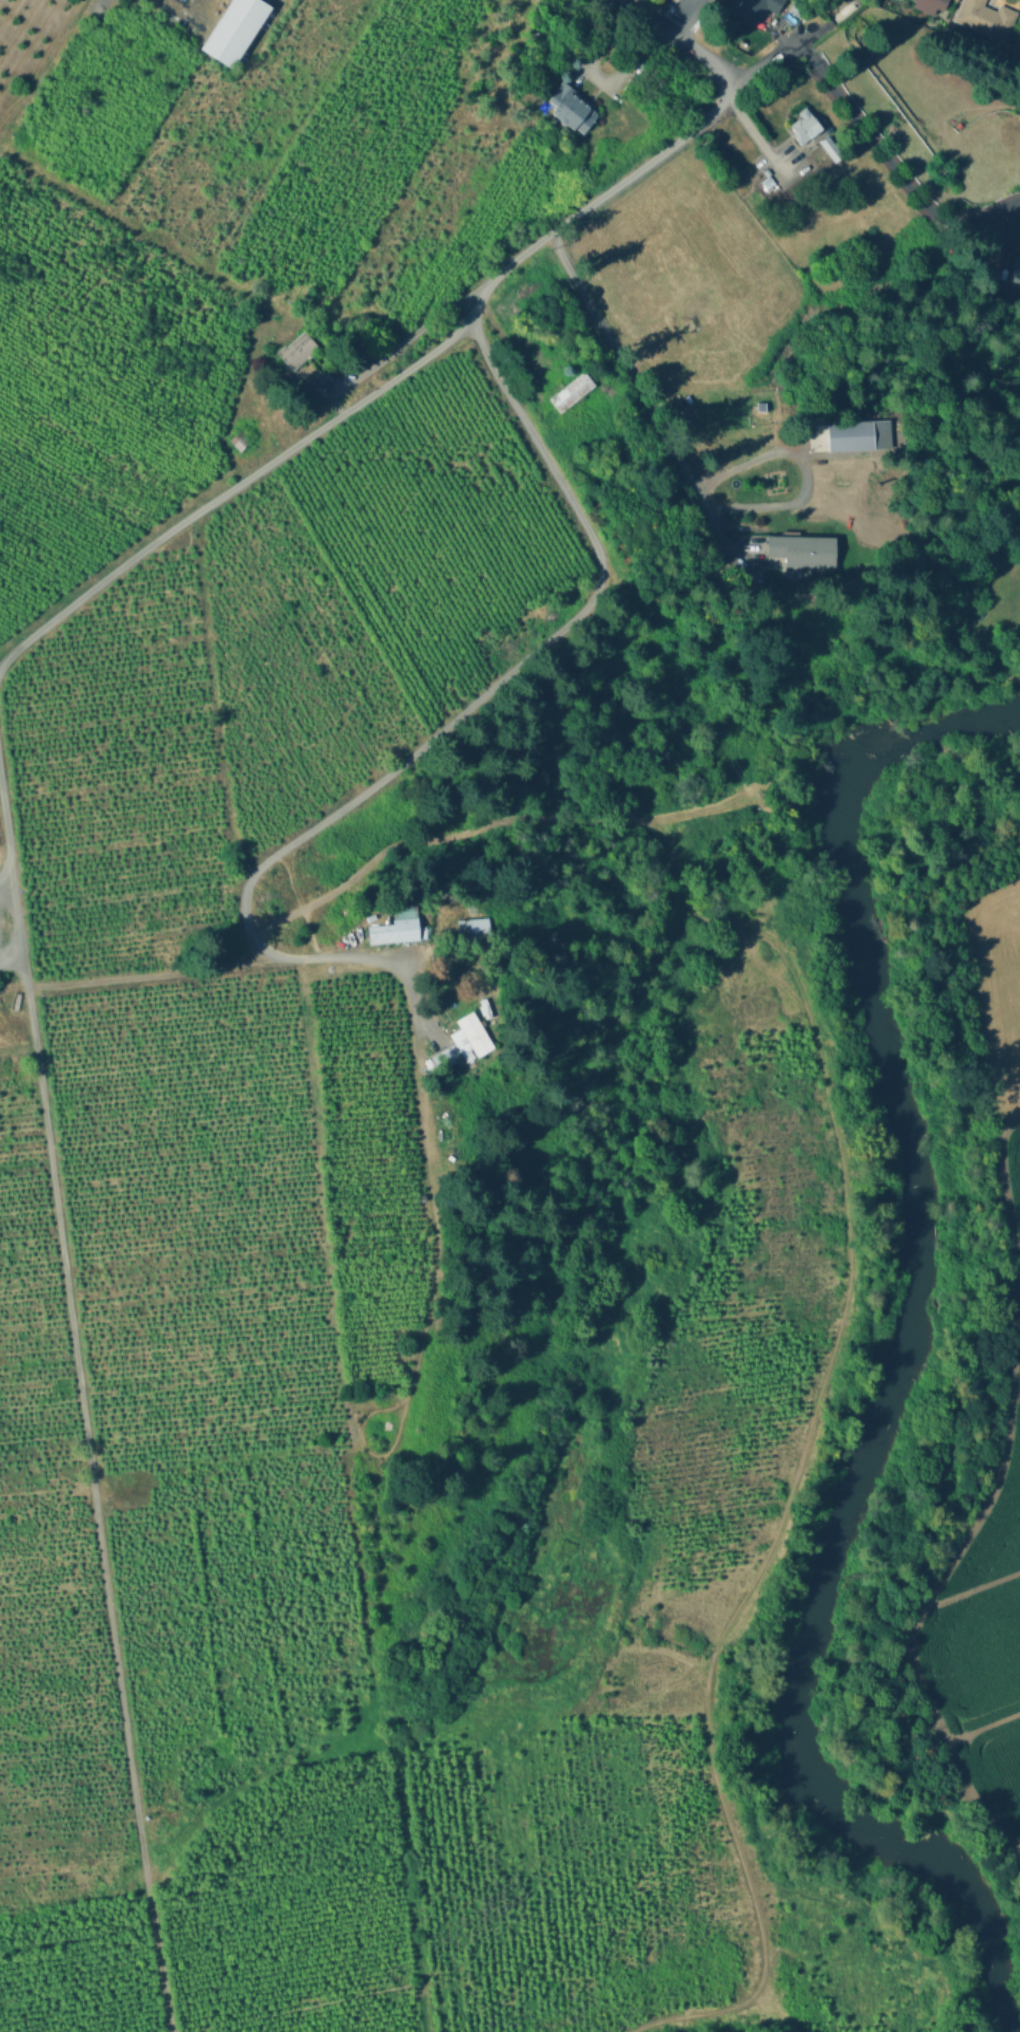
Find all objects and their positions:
building: (956, 0)
building: (930, 5)
building: (826, 6)
building: (754, 9)
building: (799, 9)
road: (639, 17)
road: (680, 17)
building: (986, 18)
building: (735, 21)
building: (232, 31)
road: (701, 52)
road: (763, 62)
road: (47, 71)
crop: (100, 104)
building: (572, 108)
building: (805, 125)
building: (830, 147)
road: (763, 148)
crop: (341, 154)
crop: (195, 162)
road: (892, 165)
road: (596, 197)
building: (1016, 269)
crop: (119, 305)
building: (298, 350)
building: (568, 390)
road: (639, 391)
building: (855, 434)
building: (240, 441)
crop: (93, 451)
road: (814, 475)
road: (232, 487)
building: (802, 550)
crop: (39, 563)
building: (751, 582)
road: (463, 711)
road: (6, 832)
road: (14, 911)
building: (471, 930)
building: (404, 932)
building: (376, 937)
road: (150, 969)
crop: (999, 995)
road: (411, 1002)
building: (461, 1041)
road: (847, 1241)
river: (906, 1359)
road: (91, 1487)
crop: (988, 1654)

